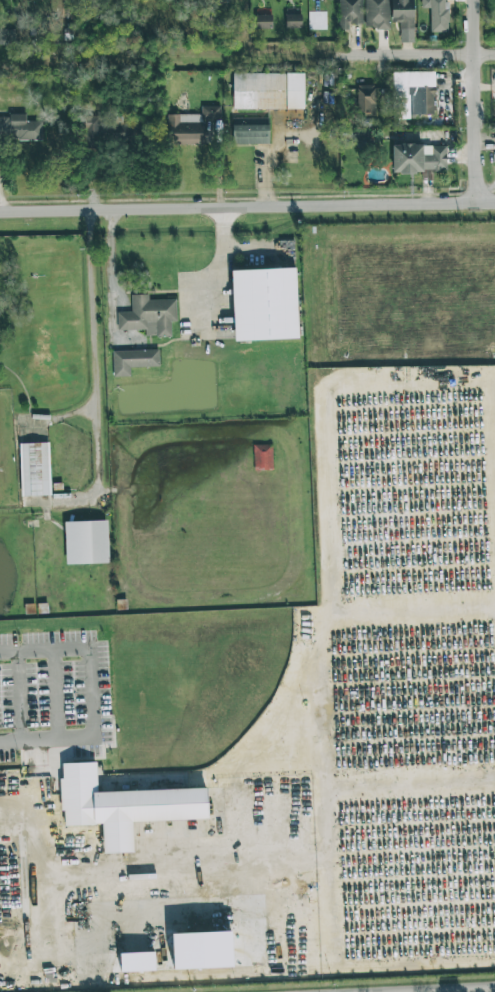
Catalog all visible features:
building: (349, 13)
building: (402, 13)
building: (376, 14)
building: (438, 16)
building: (263, 21)
building: (293, 21)
building: (7, 38)
road: (247, 55)
building: (268, 91)
building: (412, 94)
building: (365, 99)
road: (475, 100)
building: (190, 126)
building: (19, 128)
building: (100, 128)
building: (250, 134)
building: (360, 138)
building: (419, 158)
road: (247, 205)
road: (253, 244)
road: (108, 256)
road: (215, 264)
building: (264, 304)
building: (148, 316)
building: (133, 361)
road: (98, 371)
road: (64, 420)
building: (262, 457)
building: (34, 469)
building: (86, 543)
road: (90, 697)
building: (123, 808)
road: (36, 828)
road: (492, 991)

